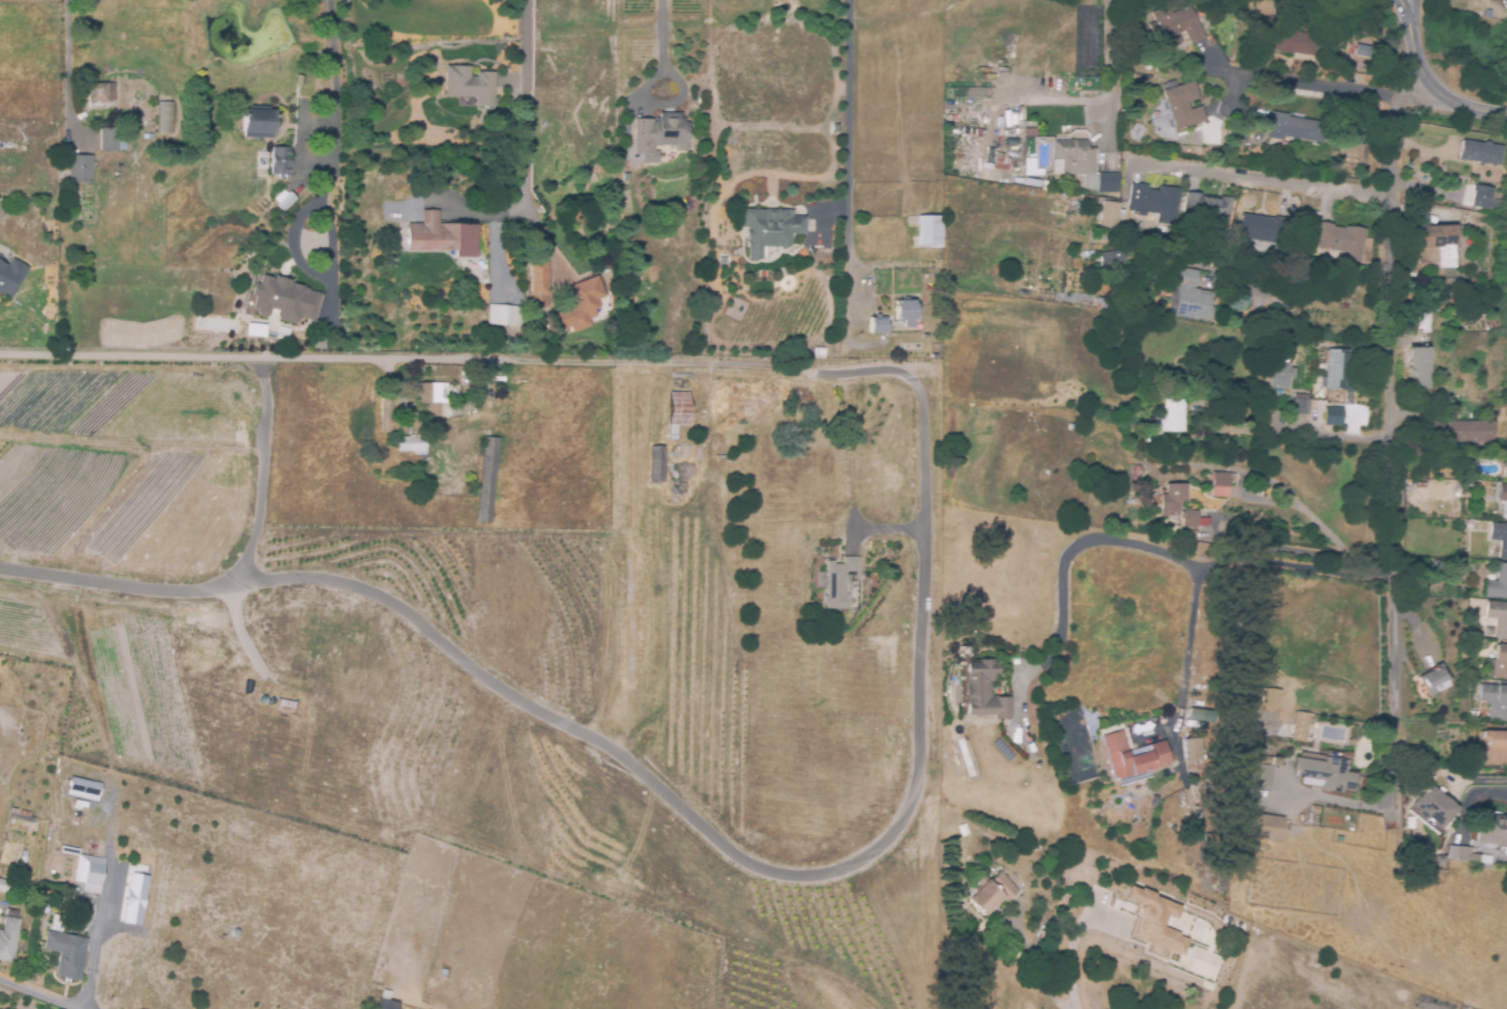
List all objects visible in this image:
road: (1405, 11)
road: (1411, 11)
building: (1175, 26)
building: (1287, 42)
road: (661, 43)
road: (67, 53)
road: (1111, 62)
road: (335, 65)
building: (1140, 75)
road: (1302, 82)
building: (469, 85)
road: (1437, 90)
building: (100, 95)
building: (1131, 105)
road: (526, 106)
building: (1184, 106)
building: (164, 119)
building: (256, 123)
building: (1295, 128)
building: (1256, 134)
building: (659, 136)
building: (149, 137)
building: (109, 144)
building: (1480, 151)
building: (703, 152)
building: (1073, 157)
building: (279, 160)
building: (1001, 164)
building: (79, 168)
road: (846, 176)
road: (1264, 177)
building: (1109, 183)
road: (1435, 191)
building: (1480, 196)
building: (283, 198)
building: (1155, 202)
building: (1079, 206)
building: (1208, 207)
building: (1110, 215)
building: (1310, 217)
building: (772, 227)
building: (1264, 229)
building: (929, 231)
building: (441, 237)
building: (1342, 241)
building: (1435, 246)
building: (1112, 259)
building: (765, 272)
building: (10, 277)
building: (1448, 283)
building: (540, 284)
building: (1190, 295)
building: (285, 298)
building: (583, 304)
building: (906, 312)
building: (504, 316)
building: (1417, 320)
building: (878, 325)
road: (1386, 333)
building: (935, 341)
road: (110, 353)
building: (818, 353)
road: (416, 357)
road: (690, 364)
building: (1421, 368)
building: (1337, 370)
building: (1281, 375)
road: (395, 389)
building: (817, 395)
building: (432, 396)
building: (1301, 405)
building: (676, 412)
building: (1332, 415)
building: (386, 416)
building: (1172, 416)
building: (1072, 427)
building: (1438, 431)
building: (1472, 431)
building: (410, 444)
building: (476, 451)
building: (656, 463)
road: (261, 473)
building: (1505, 473)
building: (1046, 474)
building: (486, 481)
building: (1221, 484)
building: (1419, 484)
building: (1175, 497)
building: (1503, 499)
road: (1300, 509)
building: (1193, 519)
building: (1500, 537)
road: (1283, 546)
road: (1068, 553)
road: (1356, 564)
road: (1205, 567)
road: (1378, 572)
building: (840, 582)
building: (1498, 584)
building: (1498, 617)
building: (964, 652)
building: (1500, 662)
building: (1433, 679)
building: (247, 687)
building: (984, 692)
building: (1495, 701)
building: (1261, 706)
building: (285, 707)
building: (1476, 715)
building: (1299, 726)
building: (1496, 747)
road: (1390, 748)
building: (1187, 751)
building: (1133, 756)
building: (1262, 771)
building: (1324, 774)
building: (82, 789)
road: (1469, 799)
building: (1434, 806)
building: (19, 821)
building: (1265, 827)
building: (1494, 830)
road: (718, 845)
building: (1465, 853)
building: (21, 859)
building: (1440, 860)
building: (85, 868)
building: (1221, 877)
building: (6, 884)
building: (75, 891)
building: (992, 893)
building: (135, 899)
building: (1154, 920)
building: (60, 921)
building: (8, 939)
building: (70, 951)
road: (1067, 961)
road: (1034, 969)
road: (34, 994)
building: (385, 1005)

